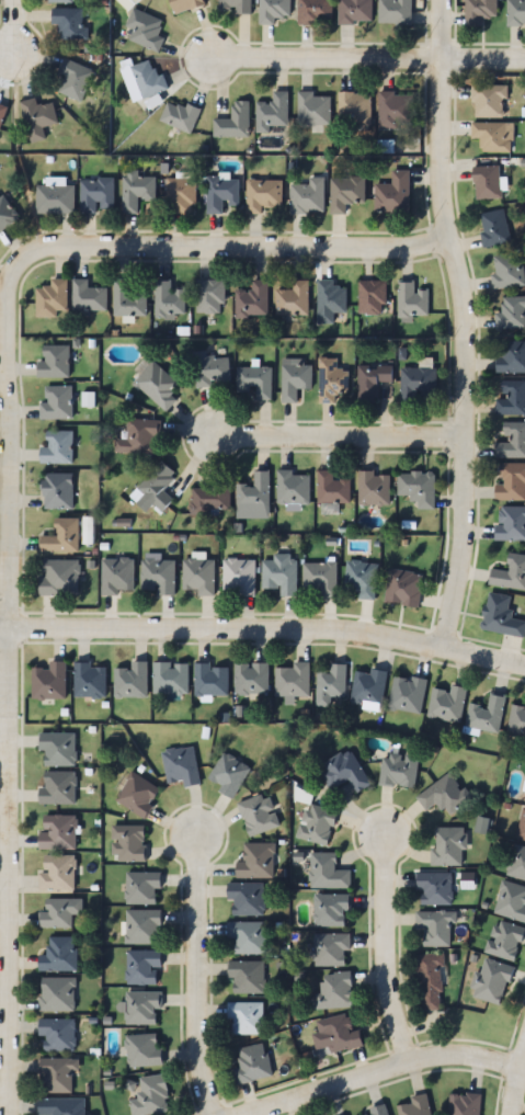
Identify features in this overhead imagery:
building: (59, 0)
building: (183, 4)
building: (236, 5)
building: (274, 10)
building: (313, 11)
building: (353, 11)
building: (478, 11)
building: (393, 12)
building: (515, 12)
building: (69, 22)
building: (145, 29)
road: (7, 31)
road: (323, 55)
road: (481, 59)
building: (75, 79)
building: (147, 79)
building: (489, 101)
building: (354, 107)
building: (396, 110)
building: (273, 112)
building: (2, 113)
building: (181, 115)
building: (37, 117)
building: (233, 122)
building: (492, 136)
building: (486, 182)
building: (136, 190)
building: (345, 192)
building: (221, 193)
building: (392, 193)
building: (262, 194)
building: (98, 195)
building: (180, 195)
building: (307, 196)
building: (55, 198)
building: (7, 213)
building: (493, 228)
road: (210, 243)
building: (506, 270)
building: (88, 295)
building: (209, 296)
building: (372, 296)
building: (52, 298)
building: (252, 299)
building: (293, 299)
building: (128, 300)
building: (169, 300)
building: (330, 300)
building: (411, 300)
building: (511, 312)
road: (461, 325)
building: (511, 356)
building: (54, 362)
building: (209, 369)
building: (254, 380)
building: (294, 380)
building: (332, 380)
building: (372, 380)
building: (416, 383)
building: (157, 386)
building: (511, 397)
building: (56, 402)
building: (140, 437)
road: (334, 440)
building: (512, 441)
building: (57, 447)
building: (511, 481)
building: (156, 488)
building: (293, 488)
building: (332, 488)
building: (374, 488)
building: (418, 488)
building: (58, 491)
building: (254, 491)
building: (210, 500)
building: (510, 524)
building: (61, 536)
building: (279, 573)
building: (510, 573)
building: (117, 574)
building: (158, 576)
building: (198, 576)
building: (238, 576)
building: (59, 577)
building: (320, 579)
building: (361, 579)
building: (403, 588)
building: (500, 616)
road: (263, 629)
building: (171, 678)
building: (251, 679)
building: (130, 680)
building: (293, 680)
building: (49, 681)
building: (90, 681)
building: (212, 681)
building: (330, 684)
building: (368, 686)
building: (407, 694)
building: (446, 704)
building: (486, 715)
building: (516, 721)
road: (4, 732)
building: (57, 748)
building: (180, 765)
building: (398, 770)
building: (344, 772)
building: (228, 774)
building: (57, 787)
building: (138, 795)
building: (444, 795)
building: (524, 799)
building: (258, 814)
building: (317, 823)
building: (521, 827)
building: (57, 831)
building: (129, 843)
building: (448, 846)
building: (256, 861)
building: (516, 863)
building: (57, 872)
building: (327, 872)
building: (141, 886)
building: (433, 888)
building: (246, 899)
building: (510, 901)
building: (331, 910)
building: (59, 912)
building: (142, 926)
building: (434, 926)
building: (247, 937)
building: (503, 941)
building: (330, 949)
road: (385, 949)
building: (59, 955)
building: (142, 968)
road: (193, 975)
building: (246, 976)
building: (429, 982)
building: (491, 982)
building: (334, 991)
building: (57, 994)
building: (142, 1008)
building: (244, 1017)
building: (57, 1034)
building: (335, 1035)
building: (144, 1050)
building: (252, 1063)
road: (387, 1070)
building: (56, 1076)
road: (513, 1076)
building: (151, 1096)
building: (465, 1104)
building: (61, 1106)
building: (415, 1106)
building: (375, 1112)

